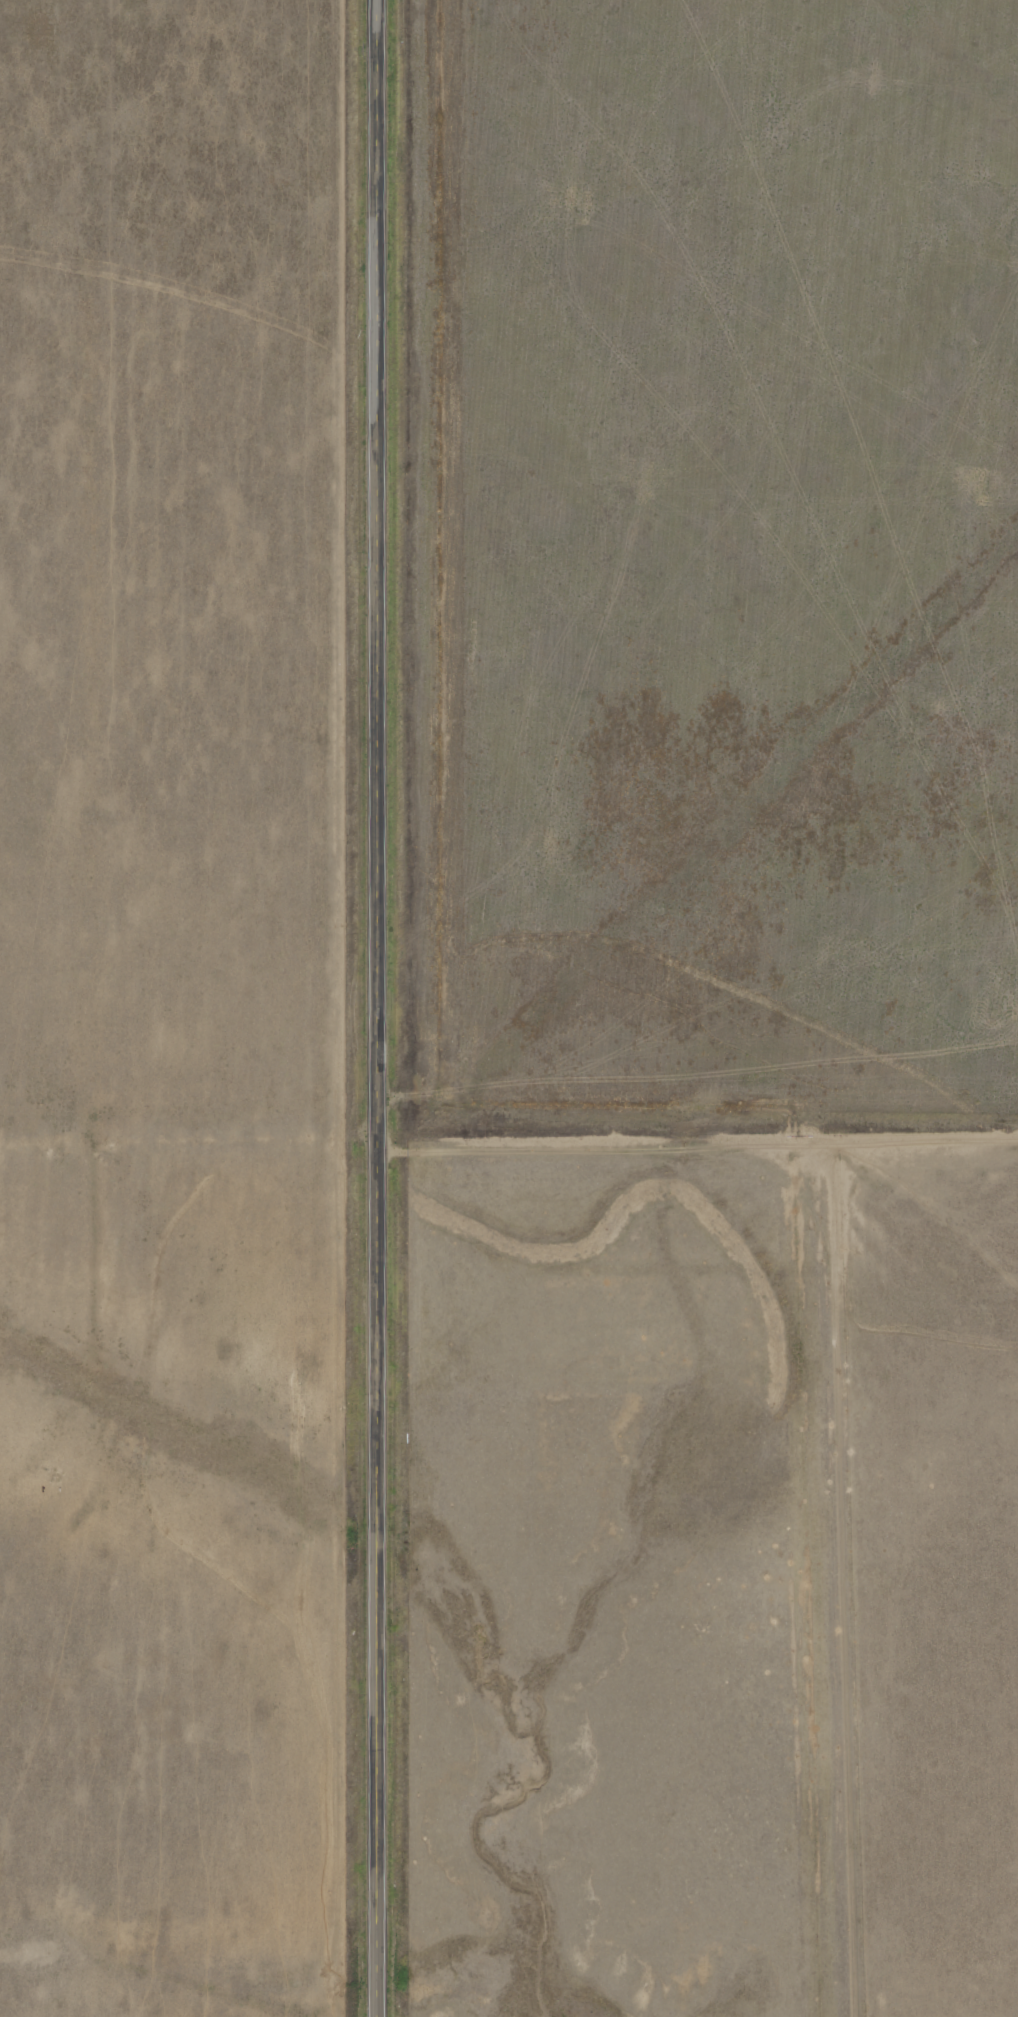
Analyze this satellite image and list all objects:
road: (384, 1008)
road: (701, 1158)

